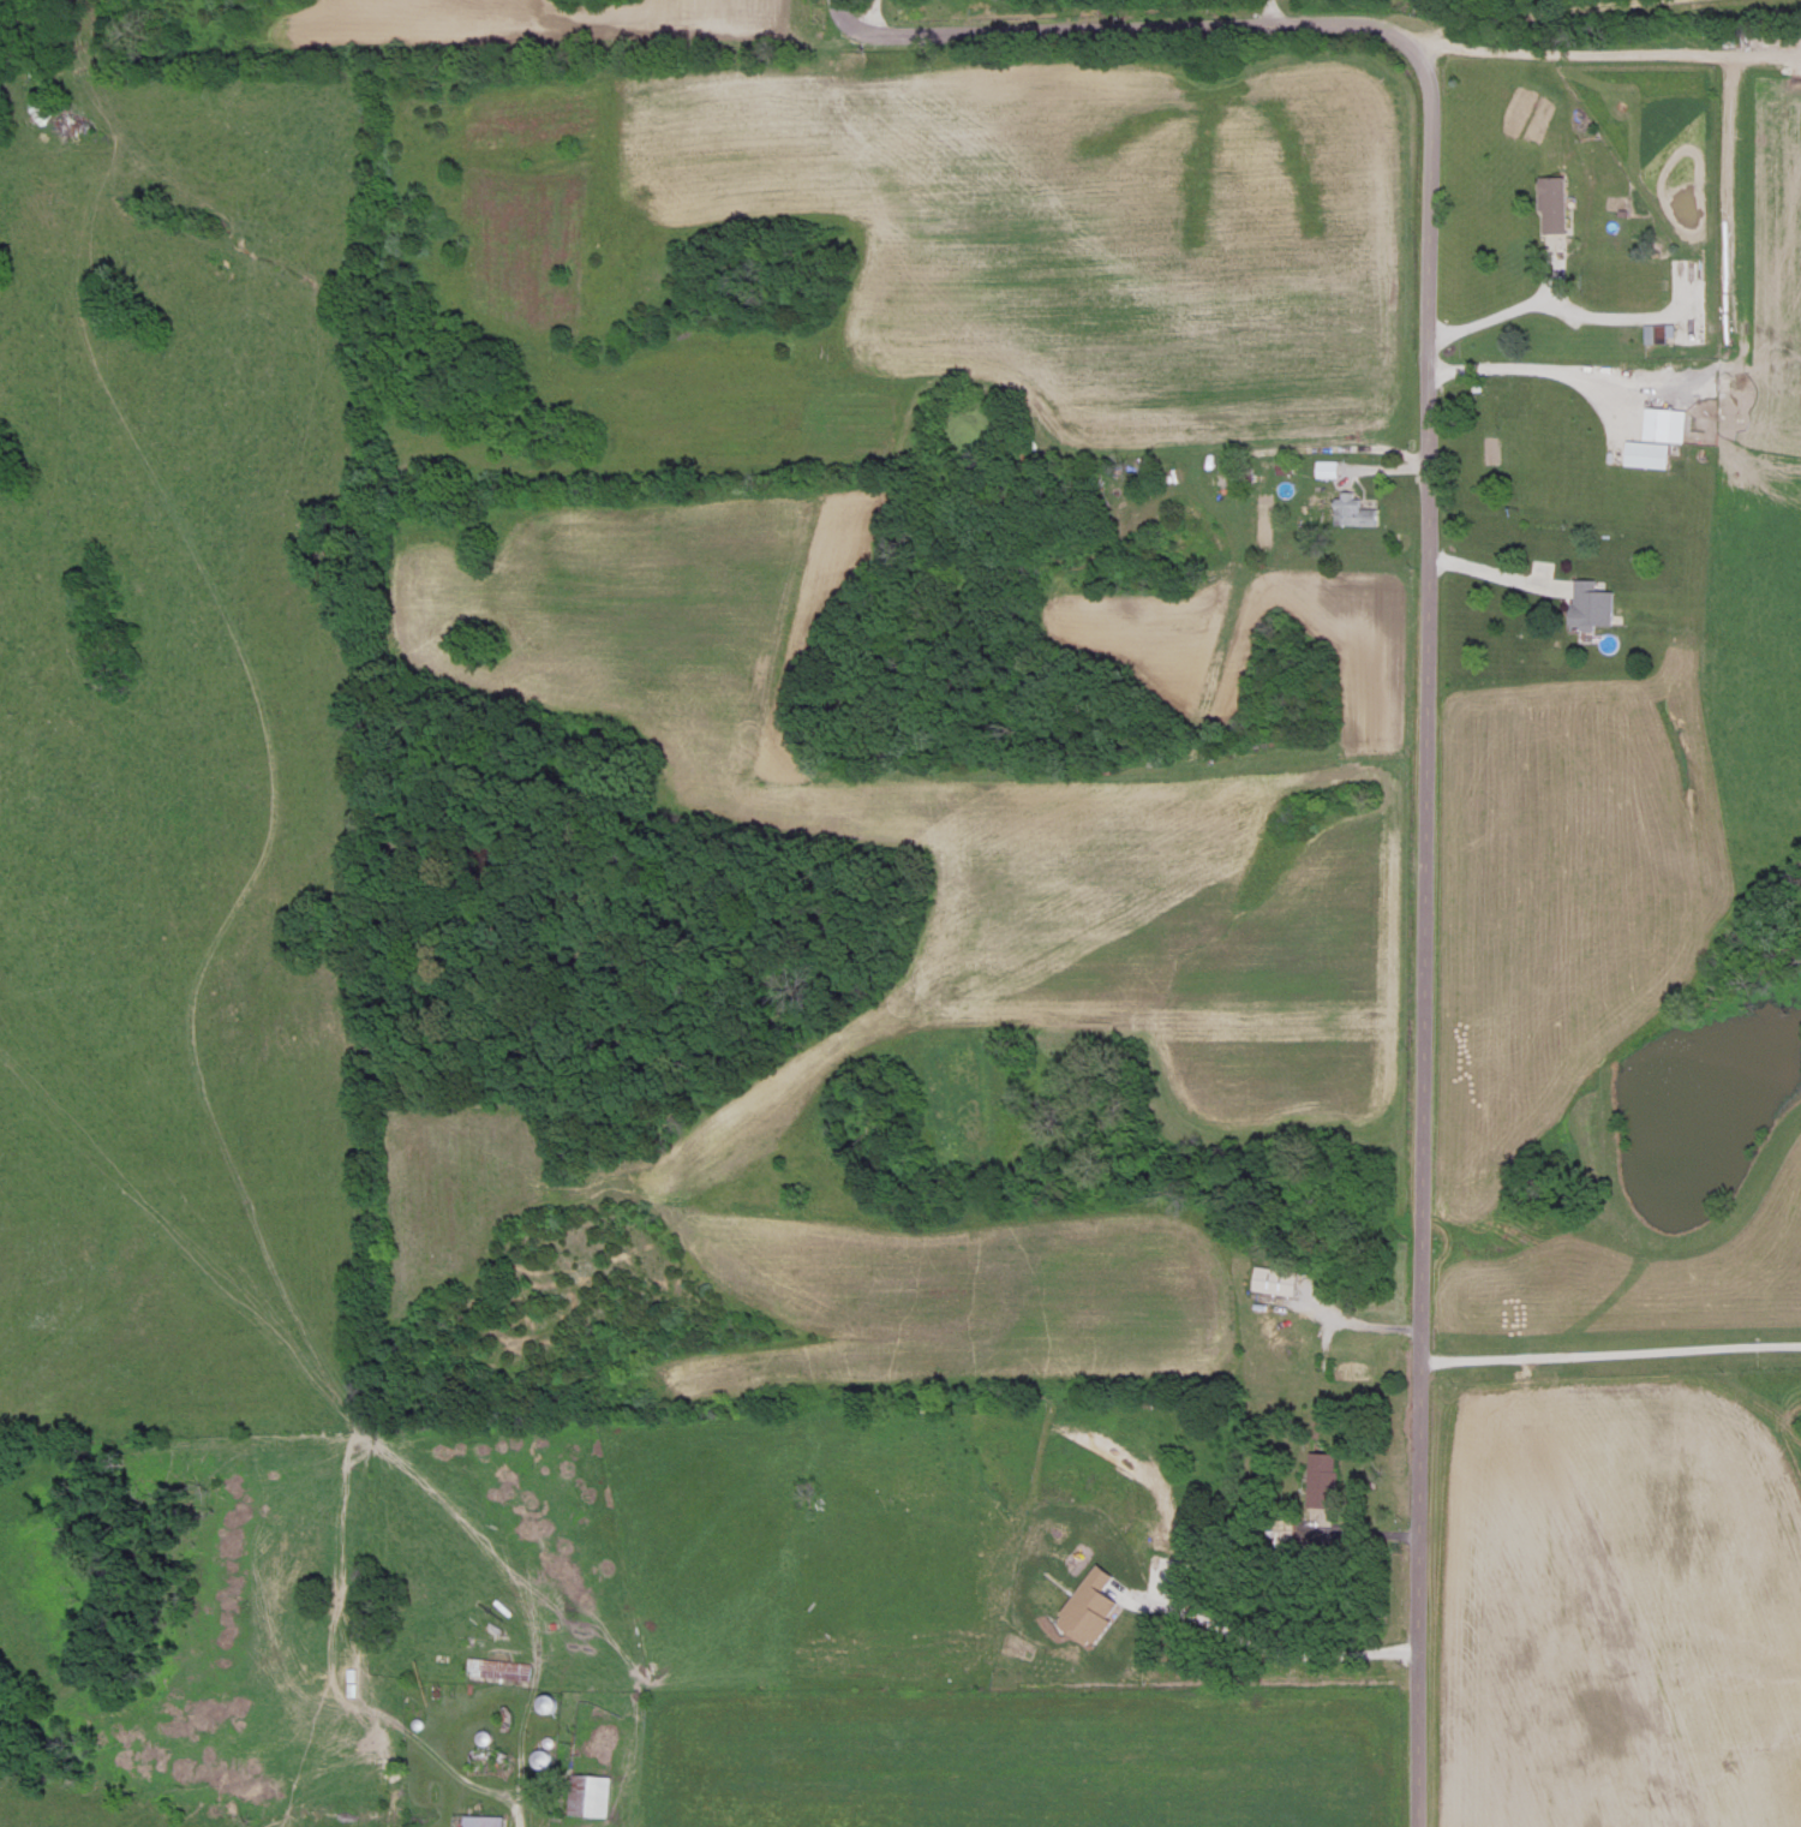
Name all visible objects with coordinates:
road: (1270, 11)
road: (1527, 13)
road: (875, 17)
road: (1609, 54)
building: (1552, 202)
road: (1492, 318)
road: (1532, 365)
building: (1656, 435)
building: (1328, 466)
building: (1358, 512)
road: (1498, 574)
building: (1591, 603)
road: (1426, 629)
building: (1272, 1278)
road: (1351, 1320)
road: (1610, 1353)
building: (1321, 1477)
building: (1278, 1533)
building: (483, 1761)
building: (586, 1793)
building: (474, 1820)

